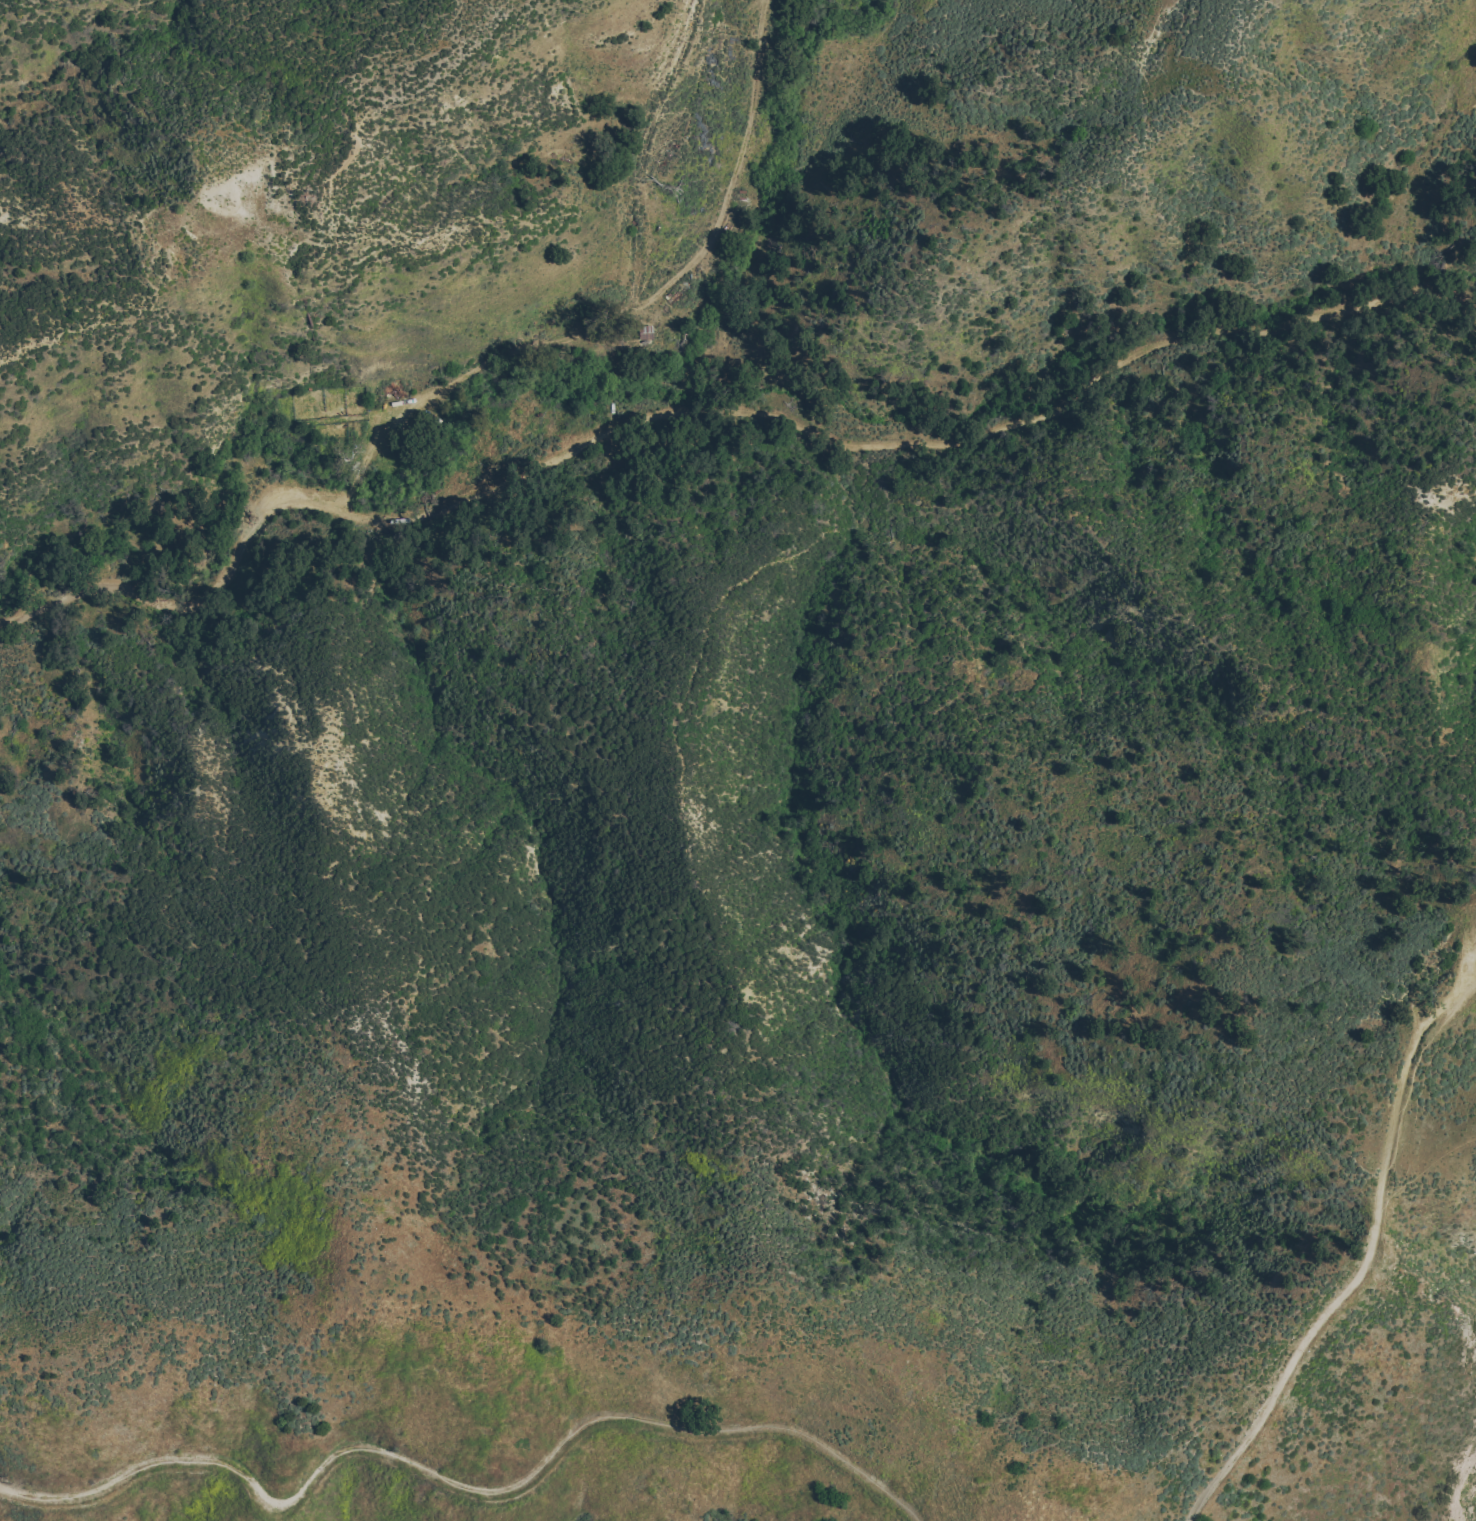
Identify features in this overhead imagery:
road: (625, 310)
building: (645, 331)
road: (911, 445)
road: (185, 578)
road: (1364, 1259)
road: (461, 1485)

